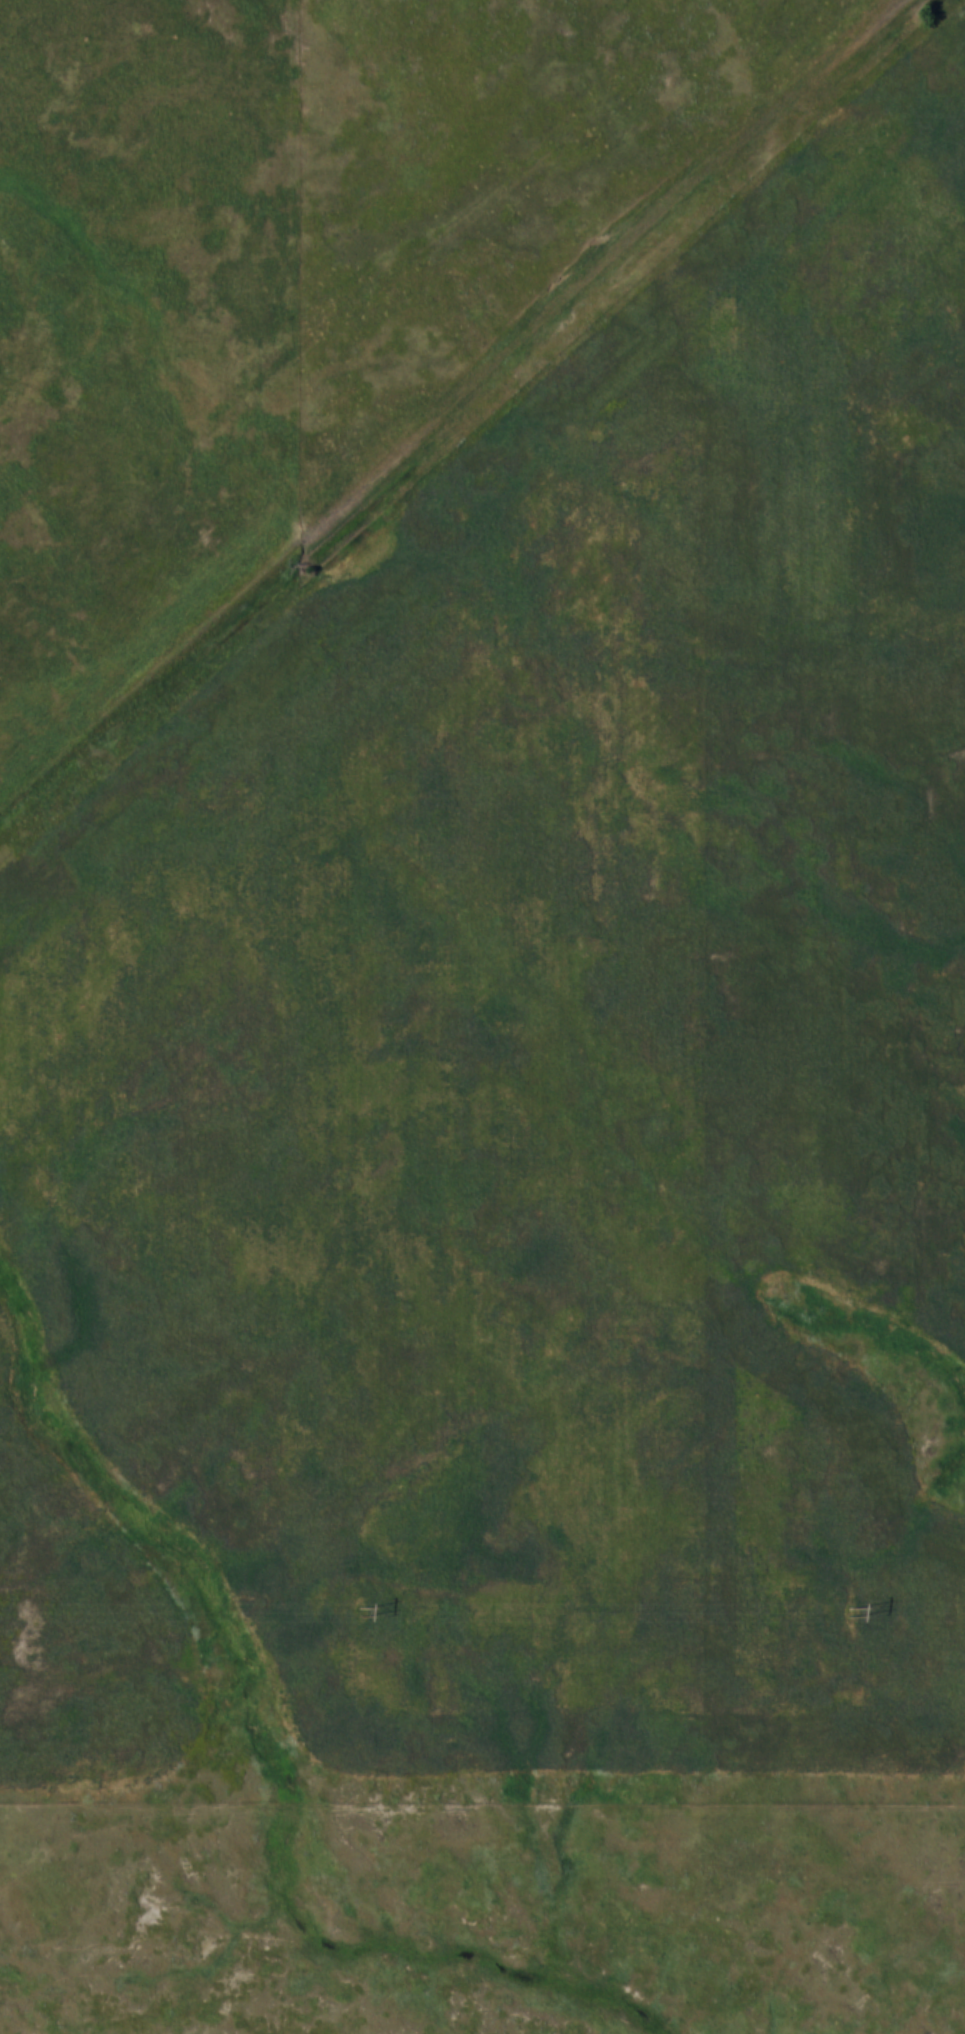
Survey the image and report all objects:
power tower: (362, 1613)
power tower: (852, 1615)

